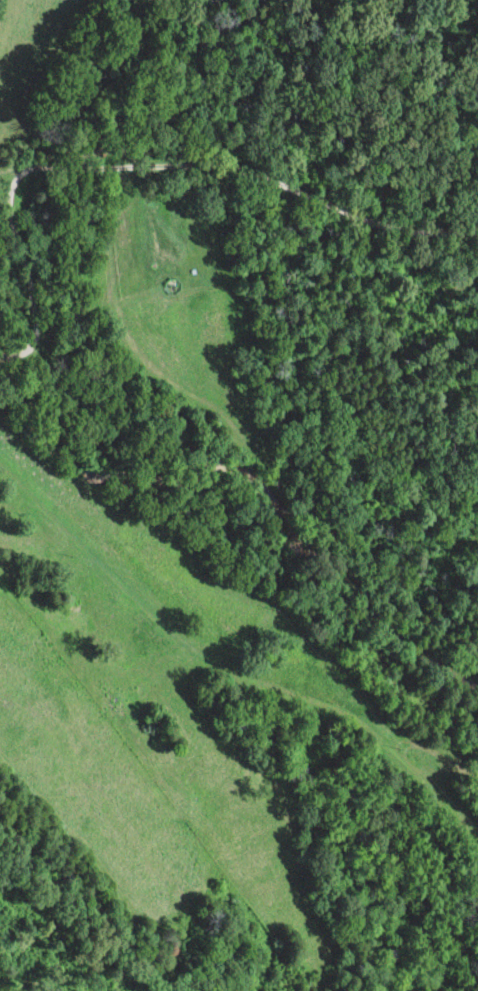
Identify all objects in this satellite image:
road: (160, 118)

